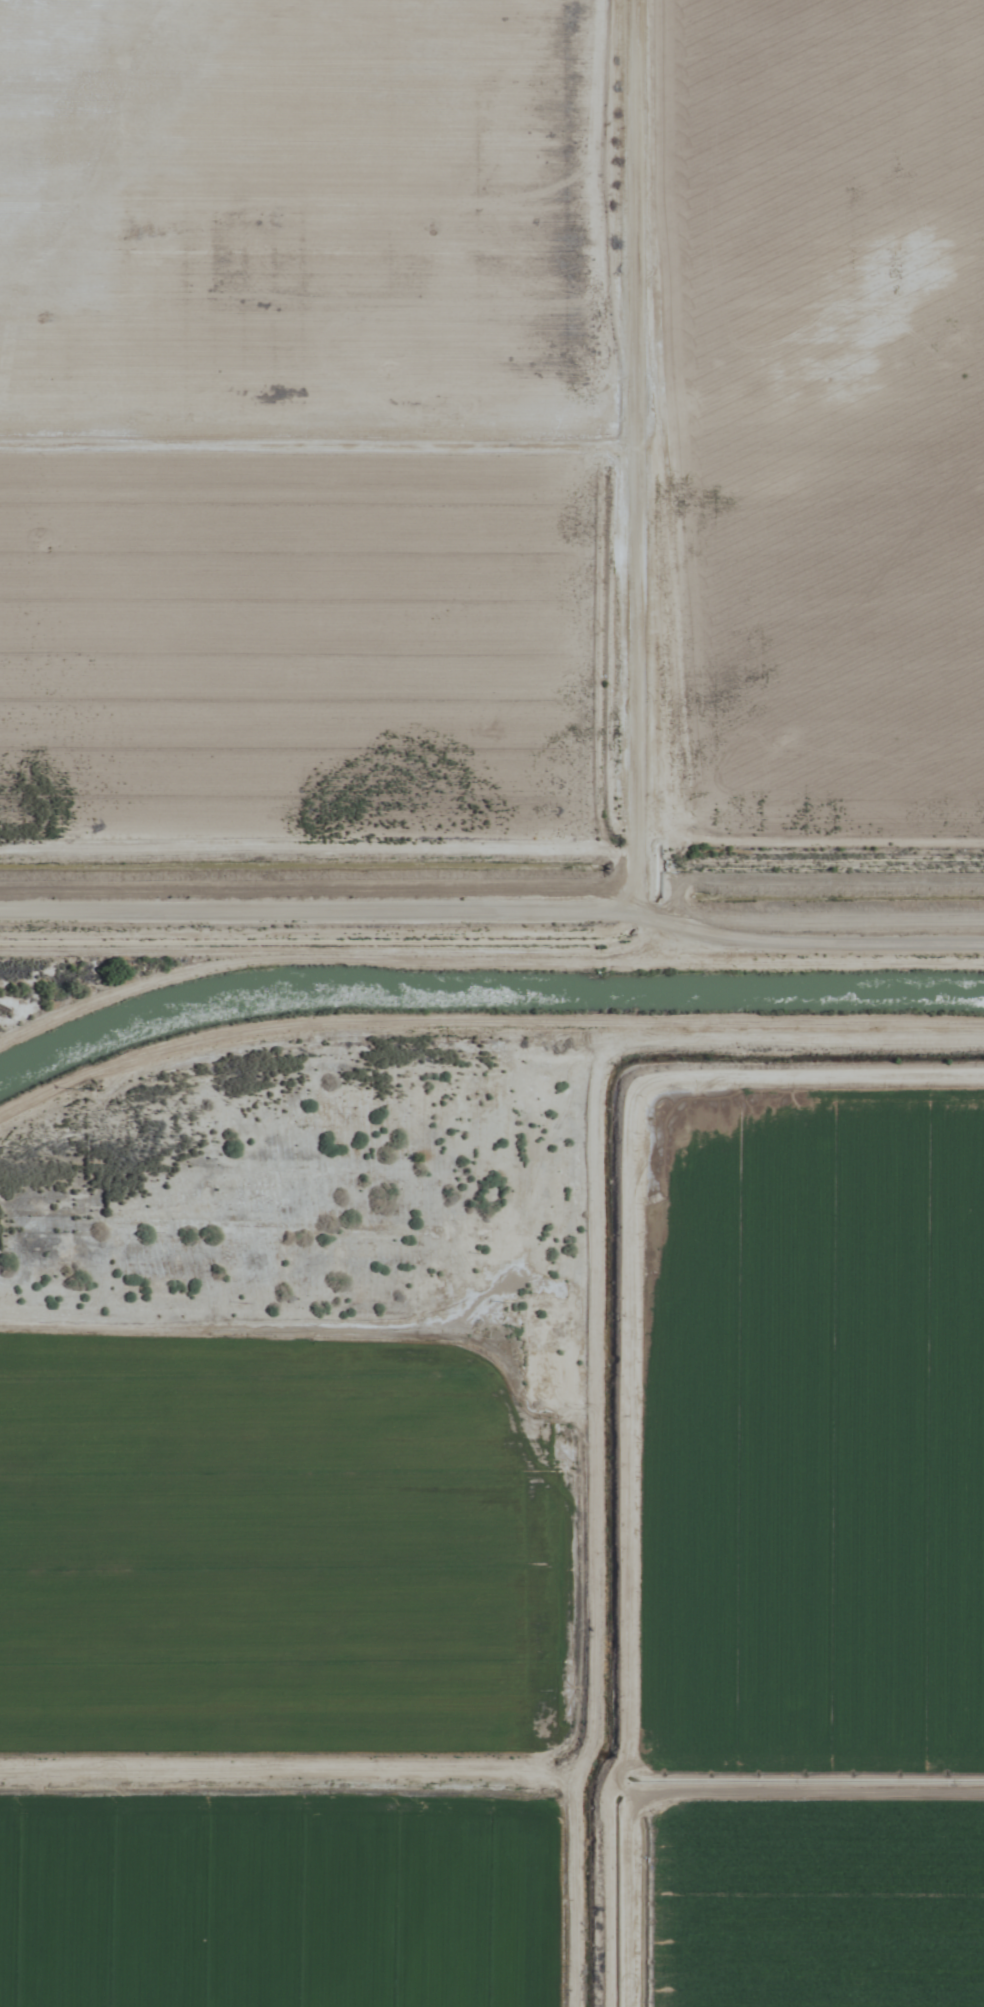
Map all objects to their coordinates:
road: (643, 475)
road: (492, 951)

